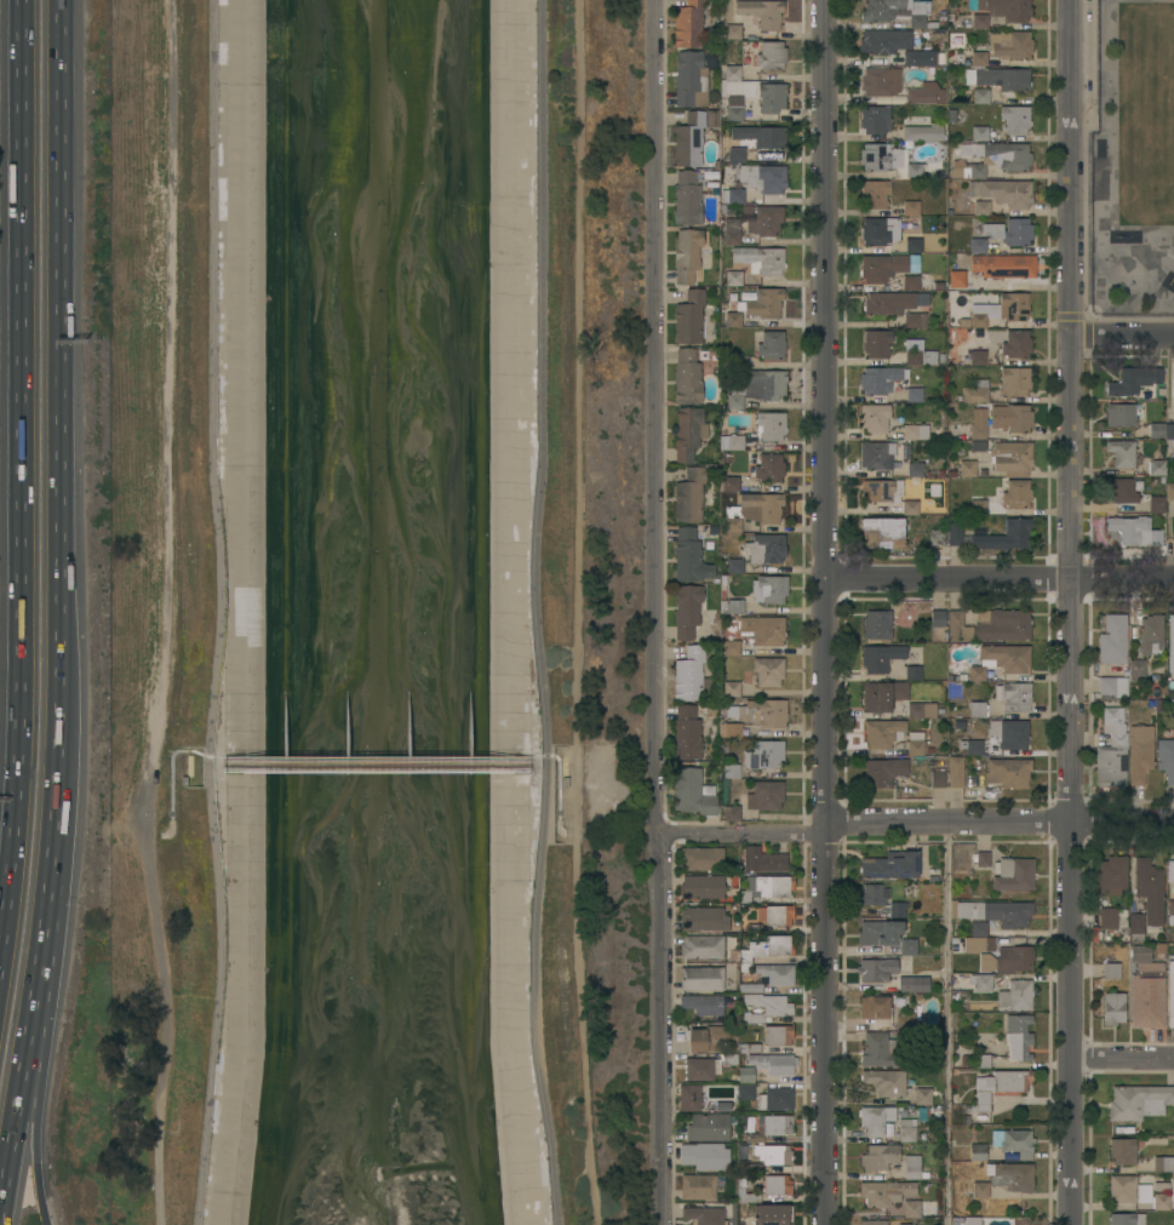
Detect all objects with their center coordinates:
building: (897, 11)
building: (1001, 11)
building: (761, 12)
building: (688, 23)
building: (732, 32)
building: (884, 41)
building: (1010, 45)
building: (771, 55)
building: (911, 58)
building: (977, 58)
building: (732, 73)
building: (1000, 78)
building: (689, 79)
building: (881, 81)
building: (926, 93)
building: (980, 96)
building: (771, 97)
building: (734, 113)
building: (711, 118)
building: (875, 119)
building: (1015, 119)
building: (923, 132)
building: (979, 133)
building: (761, 136)
building: (689, 138)
building: (737, 155)
building: (1001, 156)
building: (880, 158)
building: (914, 170)
building: (710, 174)
building: (763, 177)
building: (1007, 191)
building: (875, 194)
building: (732, 195)
building: (687, 198)
building: (911, 207)
building: (981, 207)
building: (767, 219)
building: (880, 230)
building: (732, 231)
building: (1009, 231)
building: (914, 245)
building: (978, 245)
building: (688, 254)
building: (760, 259)
building: (1004, 265)
building: (887, 267)
building: (733, 277)
building: (956, 279)
building: (910, 281)
building: (766, 302)
building: (893, 303)
building: (1013, 307)
building: (978, 315)
building: (689, 316)
building: (733, 319)
building: (915, 319)
building: (963, 322)
building: (709, 324)
road: (1123, 337)
building: (877, 342)
building: (1016, 343)
building: (772, 344)
building: (708, 354)
building: (921, 356)
building: (978, 356)
building: (732, 359)
building: (687, 376)
building: (1133, 379)
building: (878, 380)
building: (1014, 380)
building: (757, 387)
building: (1173, 390)
building: (974, 391)
building: (914, 394)
building: (1123, 414)
building: (875, 417)
building: (1016, 418)
road: (23, 419)
building: (771, 425)
building: (979, 427)
building: (1161, 429)
building: (688, 431)
building: (915, 431)
building: (731, 441)
building: (1121, 452)
building: (876, 454)
building: (1012, 458)
building: (1157, 466)
building: (769, 468)
building: (967, 468)
building: (915, 469)
building: (728, 482)
building: (1123, 490)
building: (882, 491)
building: (691, 493)
building: (1016, 493)
building: (1161, 498)
building: (910, 508)
building: (754, 510)
building: (1134, 531)
building: (882, 532)
building: (953, 533)
building: (1006, 536)
building: (937, 537)
building: (766, 548)
building: (689, 556)
building: (735, 565)
road: (1000, 579)
building: (769, 589)
building: (732, 606)
building: (687, 609)
park: (597, 611)
river: (373, 612)
road: (658, 612)
road: (826, 612)
road: (1071, 612)
road: (223, 613)
road: (534, 613)
road: (63, 614)
building: (937, 618)
building: (877, 624)
building: (1002, 624)
building: (957, 626)
building: (762, 629)
building: (1151, 632)
building: (1113, 640)
building: (1170, 643)
building: (731, 647)
building: (880, 657)
building: (1008, 657)
building: (1135, 669)
building: (768, 670)
building: (914, 672)
building: (977, 672)
building: (692, 675)
building: (1111, 687)
building: (729, 688)
building: (882, 694)
building: (1014, 695)
building: (900, 709)
building: (977, 709)
building: (921, 710)
building: (763, 712)
building: (733, 729)
building: (688, 732)
building: (883, 732)
building: (1009, 733)
building: (915, 746)
building: (970, 748)
building: (1111, 750)
building: (1140, 752)
building: (764, 754)
building: (1166, 759)
building: (731, 771)
building: (883, 771)
building: (956, 771)
building: (1008, 772)
building: (937, 779)
building: (693, 792)
building: (764, 795)
building: (731, 813)
road: (916, 824)
building: (923, 855)
building: (701, 858)
building: (981, 858)
building: (763, 859)
building: (890, 866)
road: (8, 870)
building: (1170, 870)
building: (1013, 874)
building: (1112, 875)
building: (923, 876)
building: (703, 886)
building: (766, 887)
building: (1150, 889)
building: (874, 894)
building: (897, 909)
building: (995, 911)
building: (1170, 912)
building: (775, 915)
building: (1107, 917)
building: (704, 918)
building: (1122, 918)
road: (8, 922)
building: (1136, 927)
building: (979, 928)
building: (880, 932)
building: (978, 944)
building: (701, 946)
building: (907, 946)
building: (767, 948)
building: (1008, 960)
building: (877, 968)
building: (1111, 971)
building: (1150, 972)
building: (774, 973)
building: (701, 978)
building: (906, 983)
building: (983, 983)
building: (750, 986)
building: (1015, 995)
building: (1170, 996)
building: (703, 1003)
building: (764, 1006)
building: (876, 1007)
building: (1113, 1007)
building: (906, 1021)
road: (950, 1024)
building: (778, 1035)
building: (709, 1037)
building: (1018, 1037)
building: (749, 1048)
building: (880, 1051)
road: (1121, 1058)
building: (983, 1060)
building: (773, 1063)
building: (698, 1067)
building: (745, 1075)
building: (886, 1081)
building: (745, 1091)
building: (997, 1091)
building: (689, 1097)
building: (923, 1097)
building: (775, 1099)
building: (1139, 1101)
building: (876, 1118)
building: (708, 1127)
building: (769, 1127)
road: (34, 1129)
building: (906, 1129)
building: (1014, 1141)
building: (1122, 1150)
building: (978, 1152)
building: (773, 1154)
building: (705, 1156)
building: (1012, 1156)
building: (878, 1157)
building: (1163, 1163)
building: (748, 1166)
building: (912, 1167)
building: (897, 1174)
building: (1010, 1175)
building: (777, 1185)
building: (698, 1186)
building: (1161, 1186)
building: (980, 1189)
building: (1122, 1189)
building: (884, 1192)
building: (1144, 1193)
building: (748, 1195)
building: (1162, 1201)
building: (912, 1208)
building: (703, 1214)
building: (772, 1214)
building: (1127, 1218)
building: (973, 1220)
building: (872, 1221)
building: (904, 1224)

